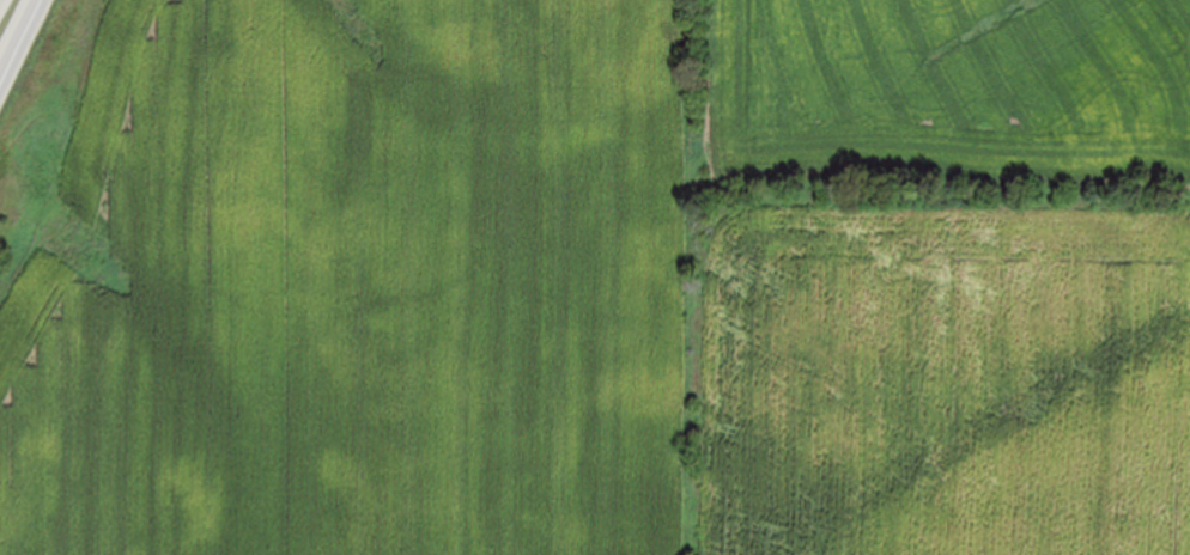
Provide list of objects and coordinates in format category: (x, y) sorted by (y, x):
road: (18, 37)

